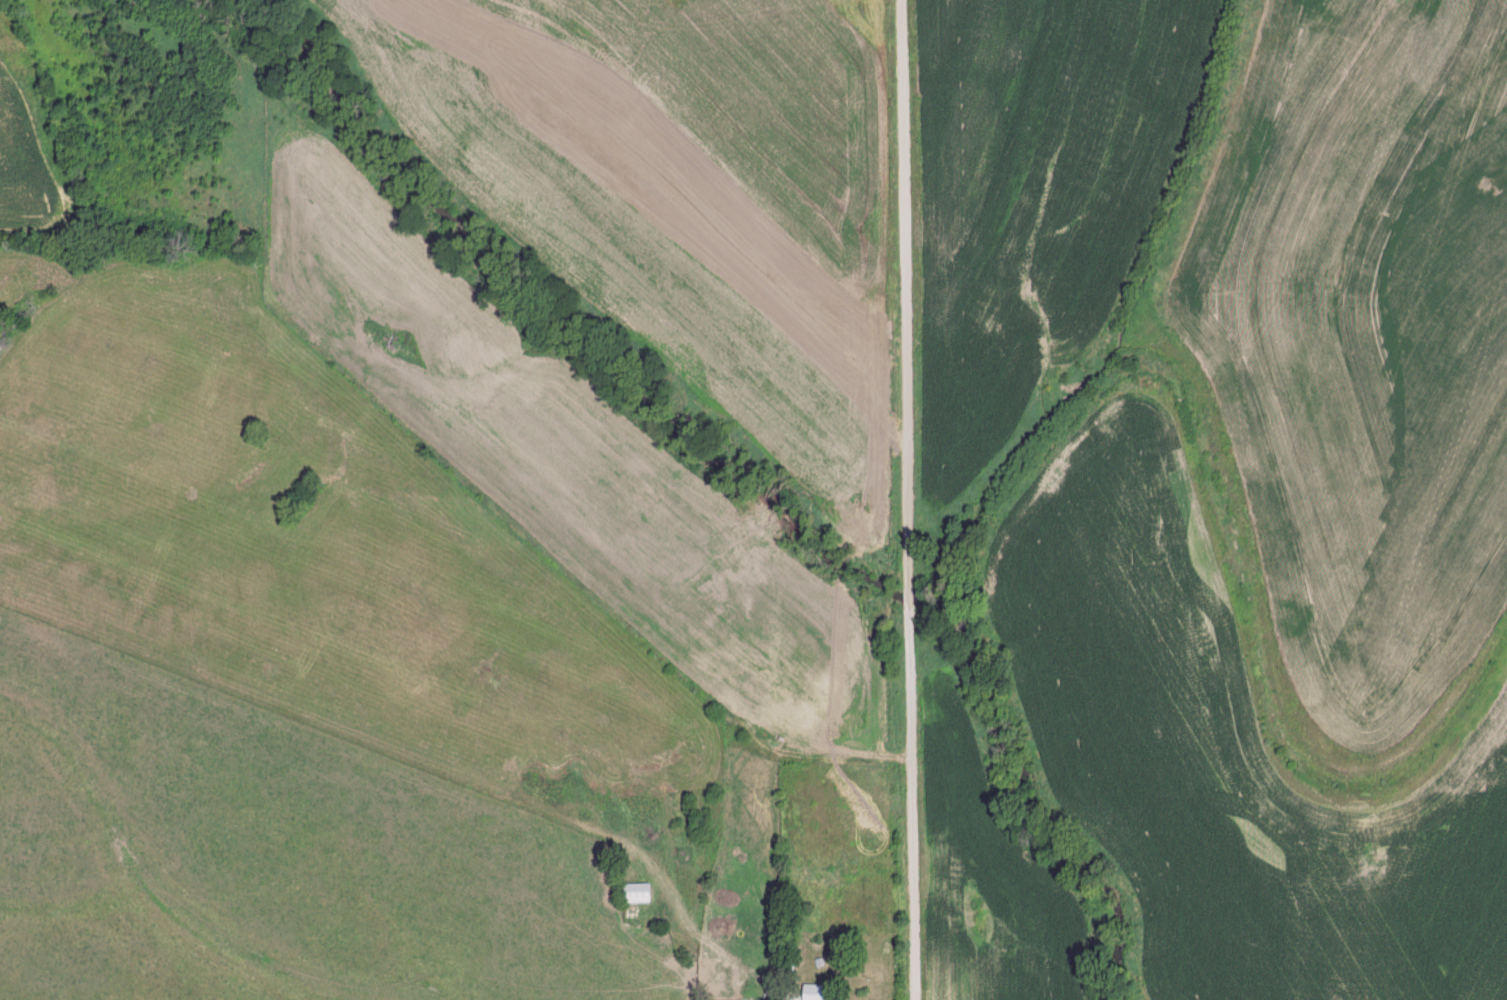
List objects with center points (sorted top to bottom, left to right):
road: (908, 499)
building: (633, 893)
building: (814, 992)

